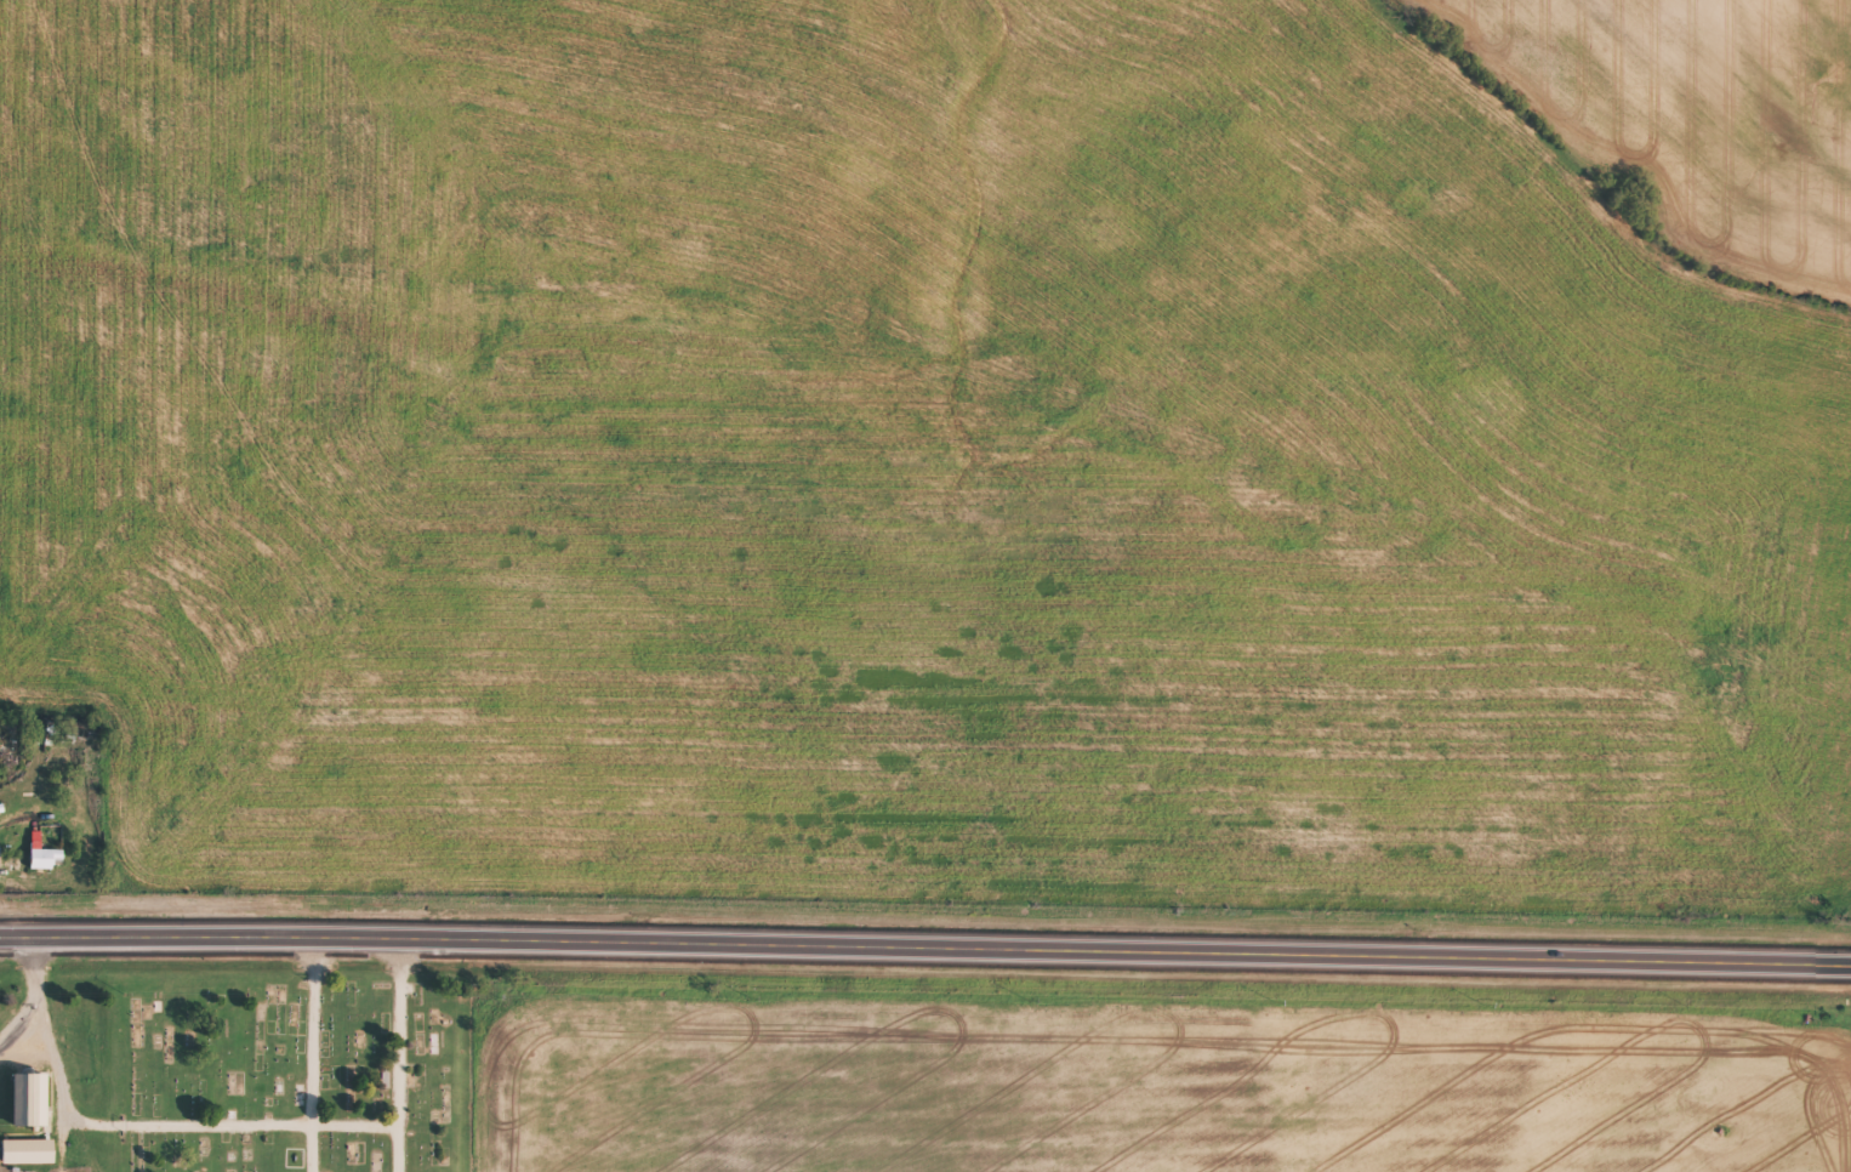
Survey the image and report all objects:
building: (42, 864)
road: (926, 956)
road: (483, 1059)
park: (301, 1074)
building: (32, 1110)
building: (29, 1161)

